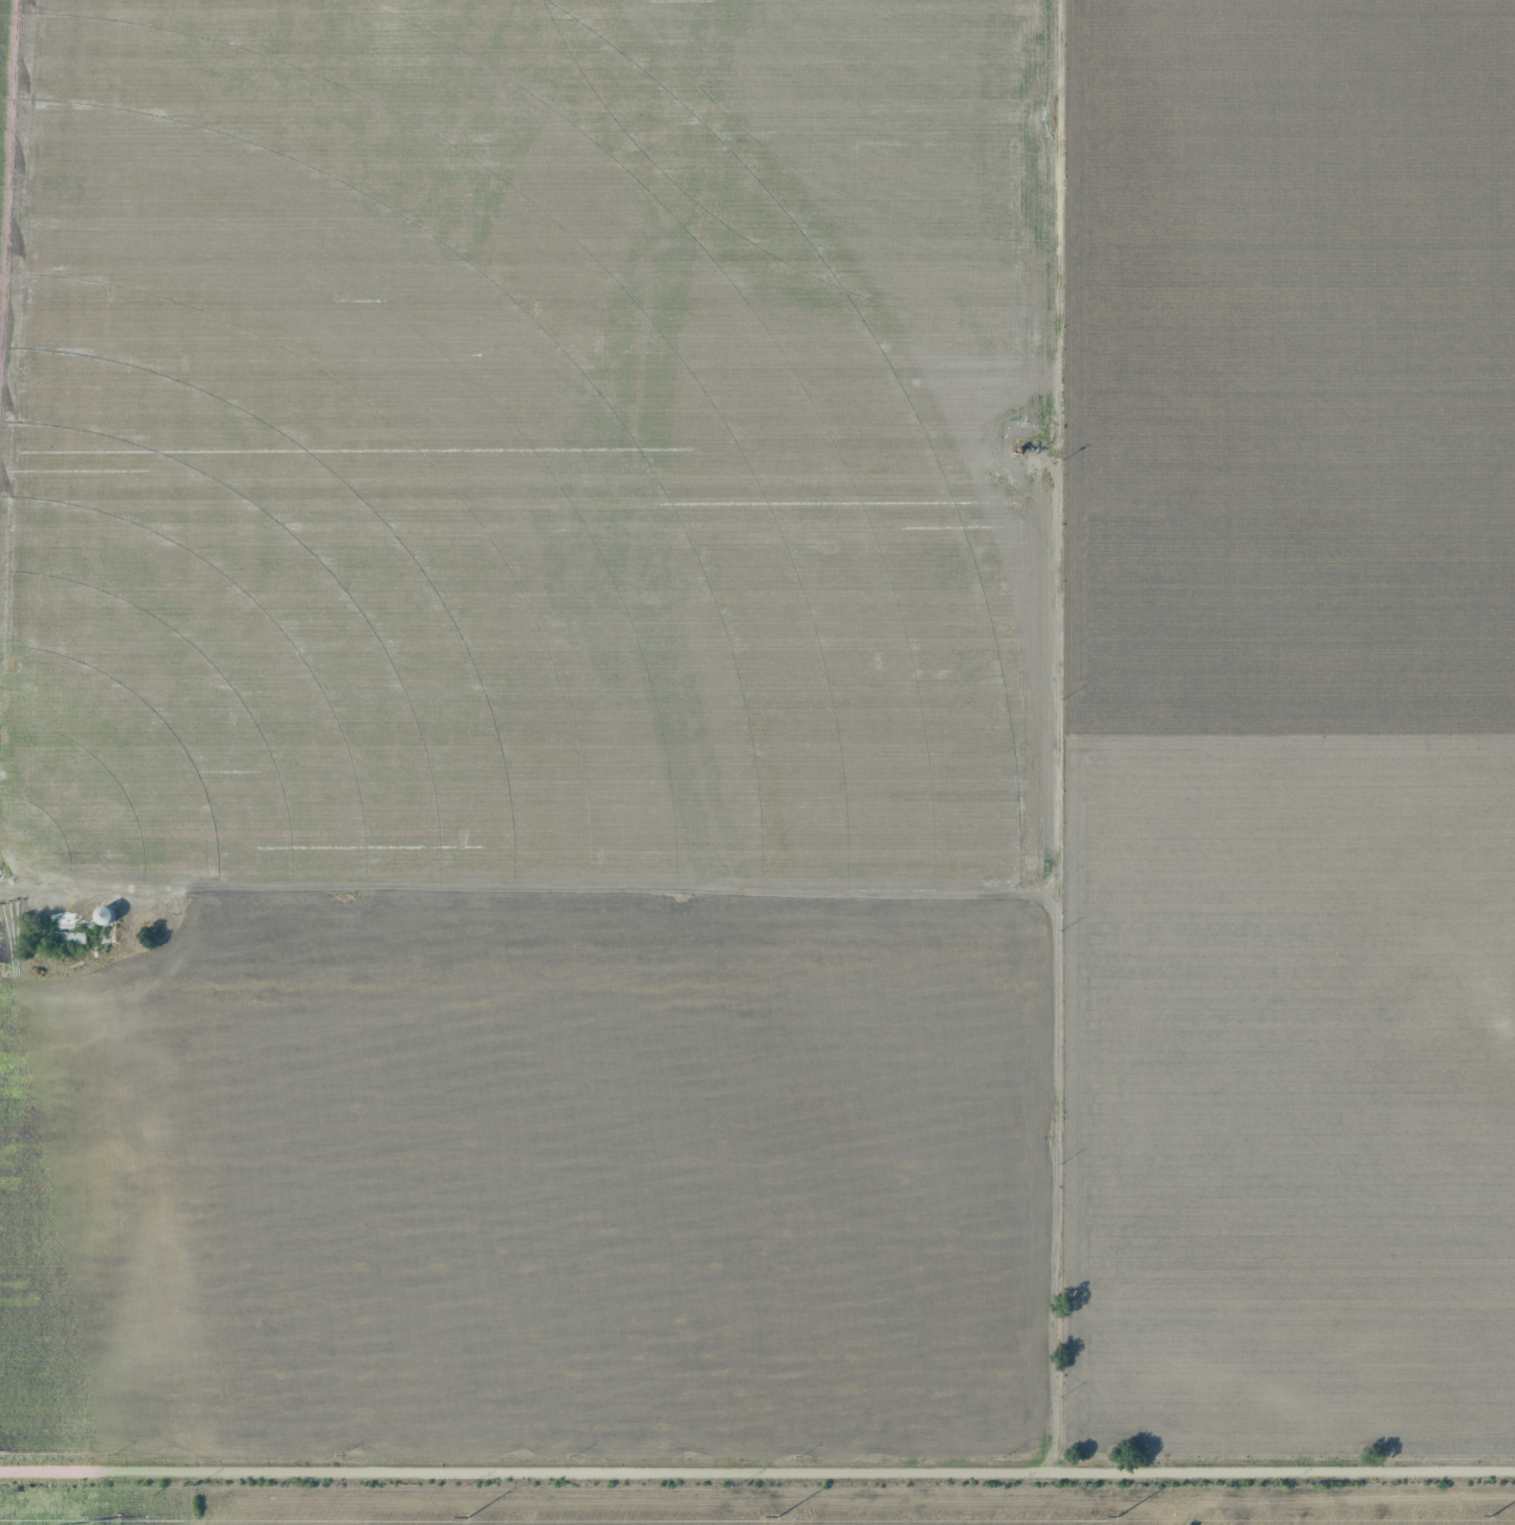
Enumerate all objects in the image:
road: (757, 1472)
power tower: (194, 1484)
power tower: (739, 1484)
power tower: (1009, 1484)
power tower: (1287, 1484)
power tower: (467, 1485)
power tower: (117, 1515)
power tower: (463, 1516)
power tower: (1109, 1516)
power tower: (1489, 1516)
power tower: (767, 1517)

